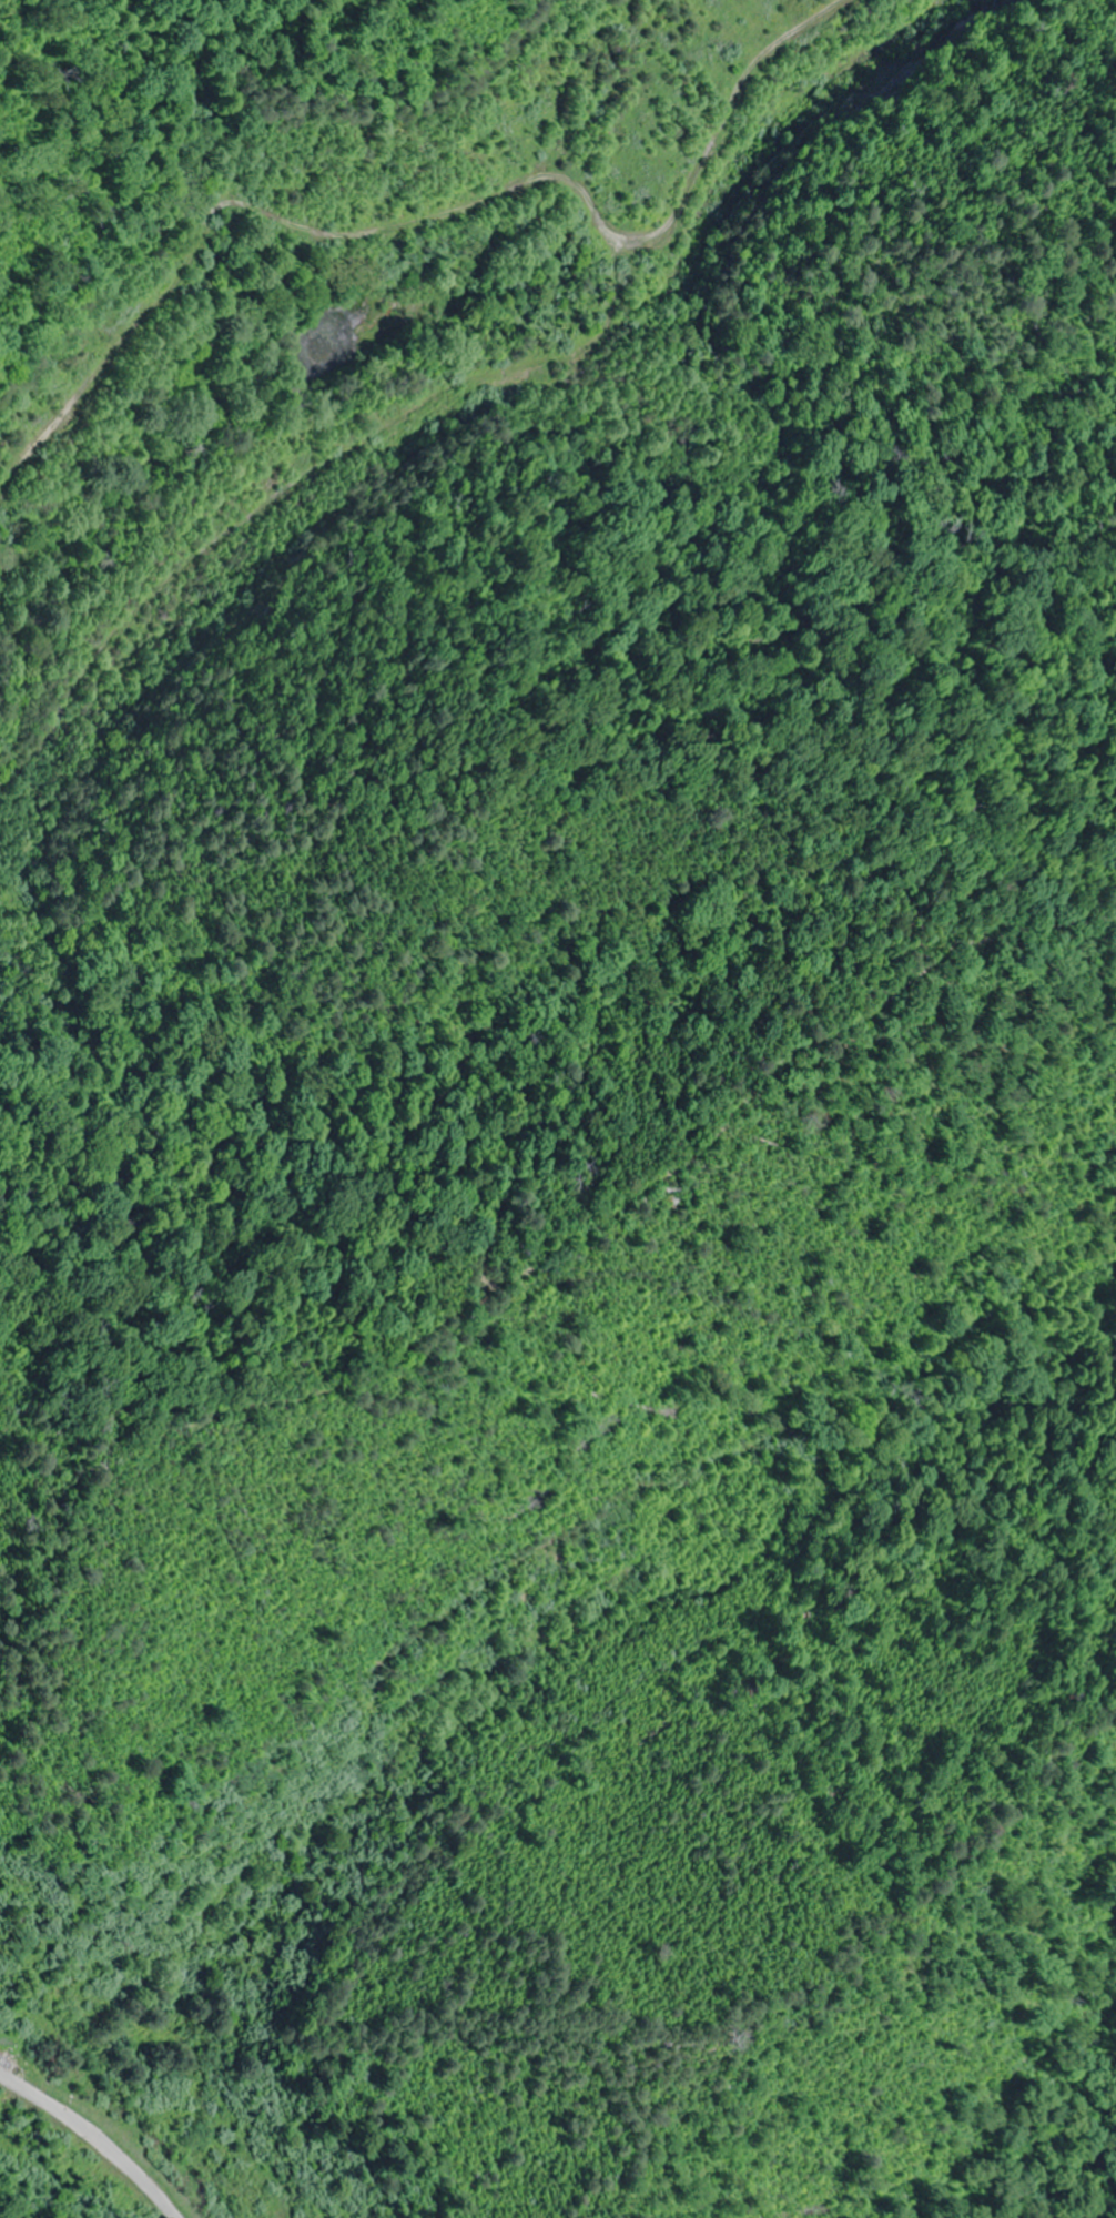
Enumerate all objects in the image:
road: (91, 2139)

